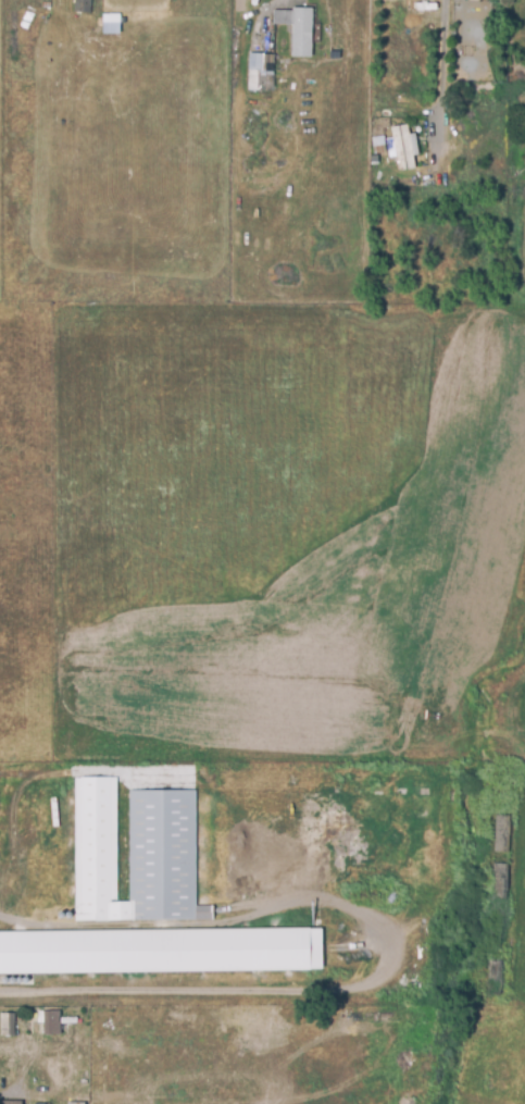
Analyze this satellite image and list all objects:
building: (83, 7)
building: (109, 23)
building: (301, 32)
road: (442, 65)
building: (260, 72)
building: (402, 148)
building: (499, 833)
building: (139, 854)
building: (154, 946)
building: (51, 1022)
building: (7, 1025)
building: (404, 1100)
building: (11, 1103)

